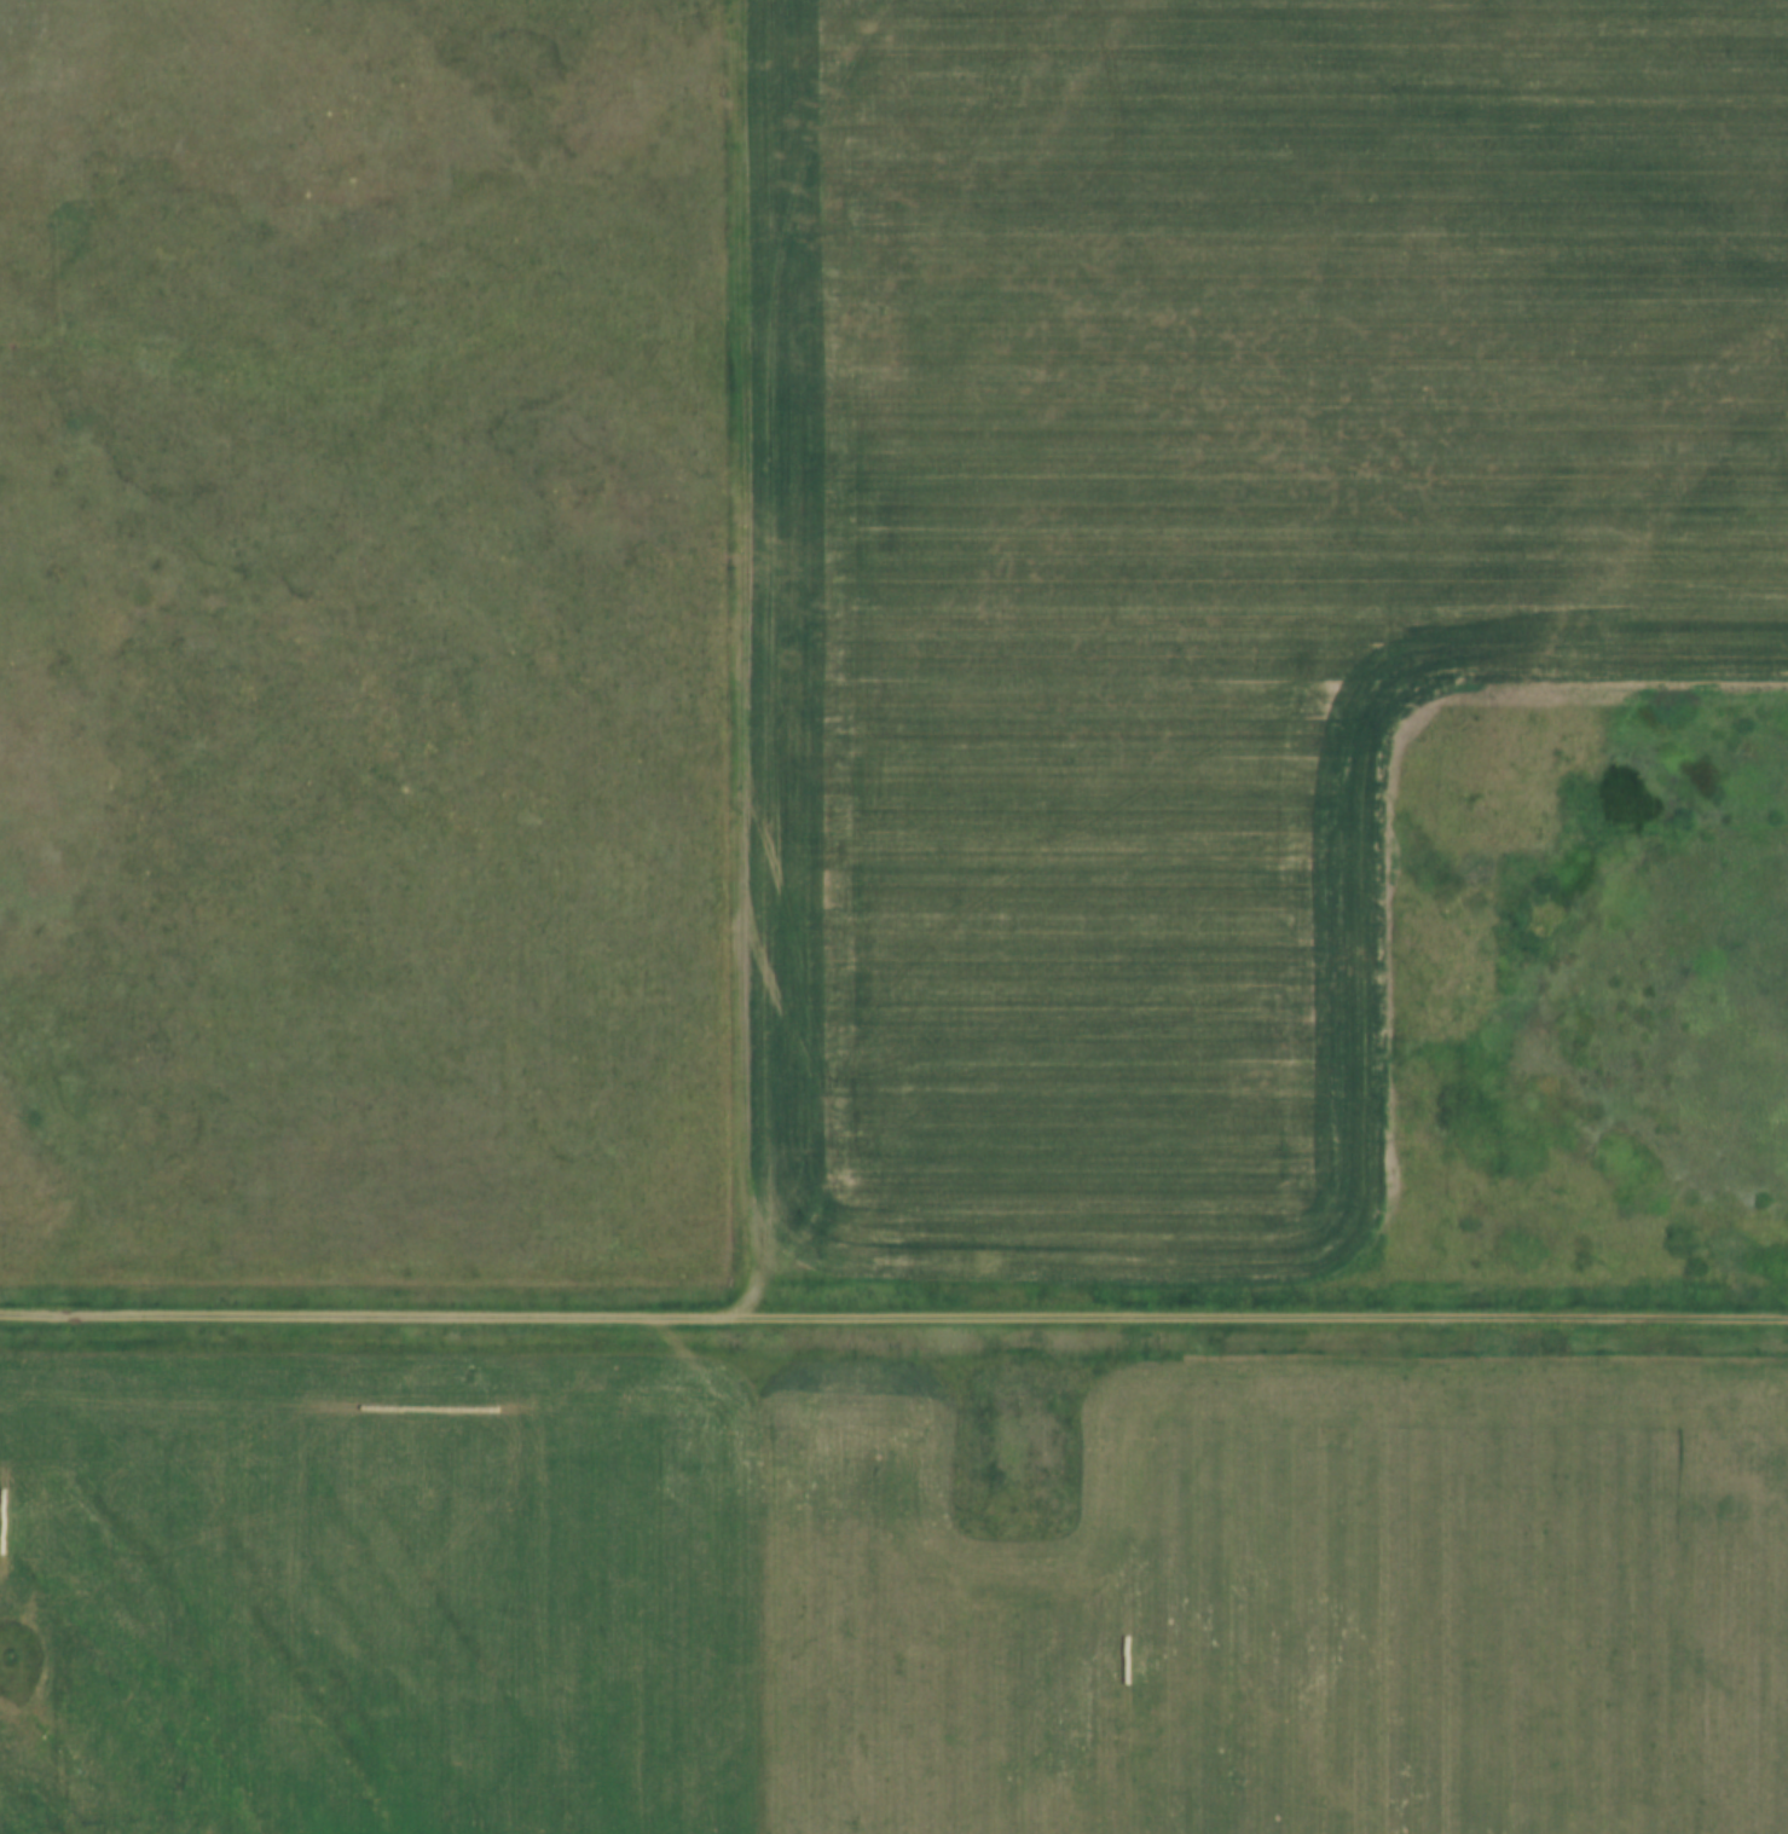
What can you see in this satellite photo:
road: (893, 1321)

